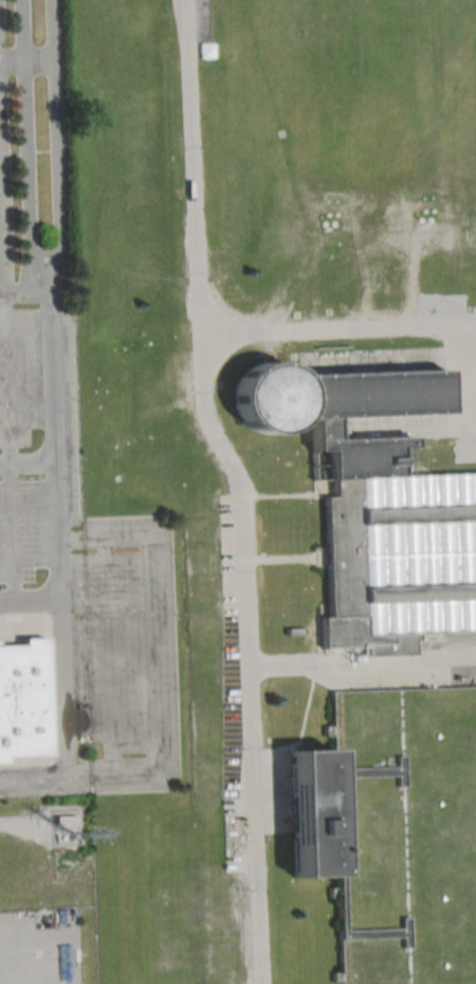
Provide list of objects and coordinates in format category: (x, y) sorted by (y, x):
road: (26, 60)
road: (23, 289)
road: (44, 293)
road: (358, 335)
parking lot: (20, 377)
road: (8, 383)
building: (266, 397)
storage tank: (266, 397)
road: (25, 463)
road: (241, 487)
building: (384, 520)
road: (9, 534)
road: (54, 536)
parking lot: (23, 547)
road: (29, 604)
parking lot: (129, 636)
parking lot: (78, 648)
road: (152, 654)
road: (105, 657)
road: (359, 669)
building: (22, 705)
road: (32, 779)
building: (393, 832)
storage tank: (393, 832)
parking lot: (38, 946)

